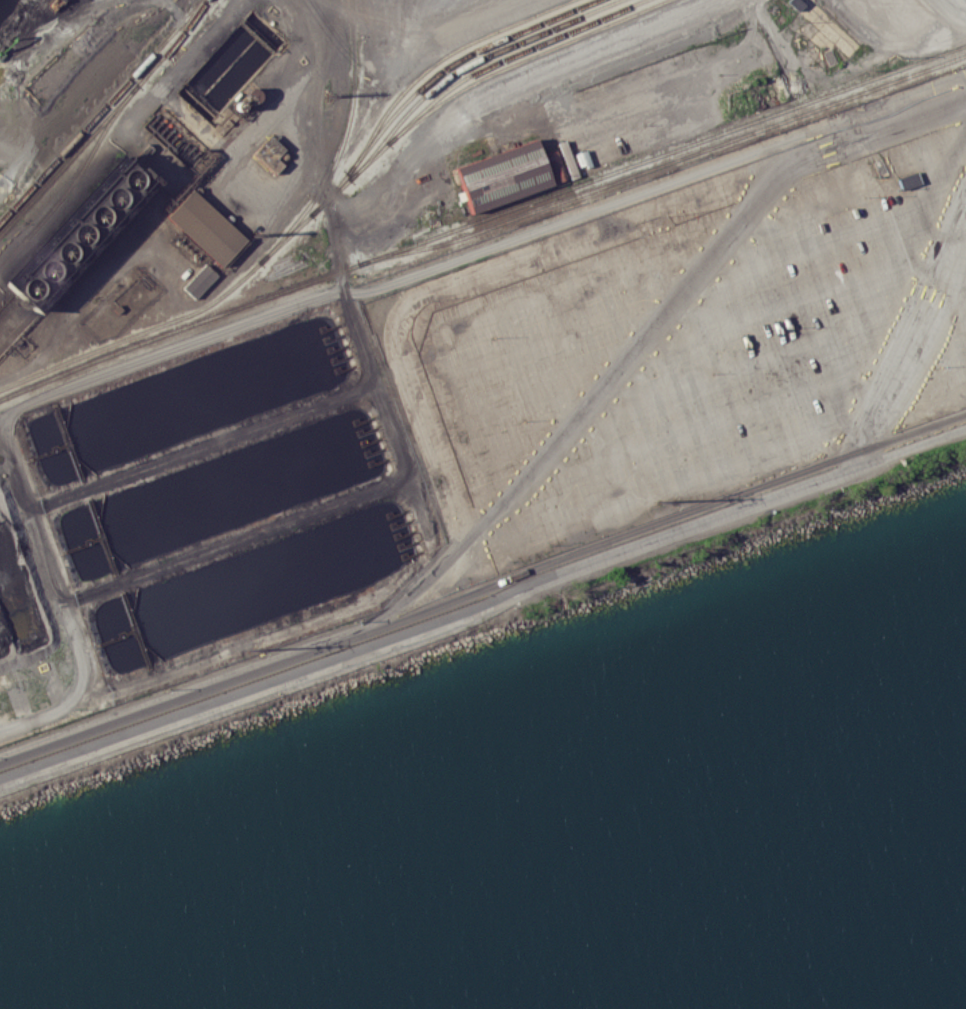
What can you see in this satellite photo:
railway: (505, 58)
railway: (453, 62)
railway: (466, 64)
railway: (933, 66)
railway: (415, 79)
railway: (849, 86)
railway: (100, 109)
railway: (105, 119)
road: (120, 138)
railway: (341, 143)
building: (502, 174)
railway: (630, 175)
railway: (74, 179)
railway: (592, 179)
building: (908, 180)
road: (326, 187)
railway: (333, 193)
building: (205, 228)
building: (77, 231)
building: (199, 281)
railway: (225, 311)
road: (650, 324)
road: (909, 331)
road: (7, 411)
road: (12, 461)
road: (40, 543)
road: (482, 586)
road: (484, 607)

